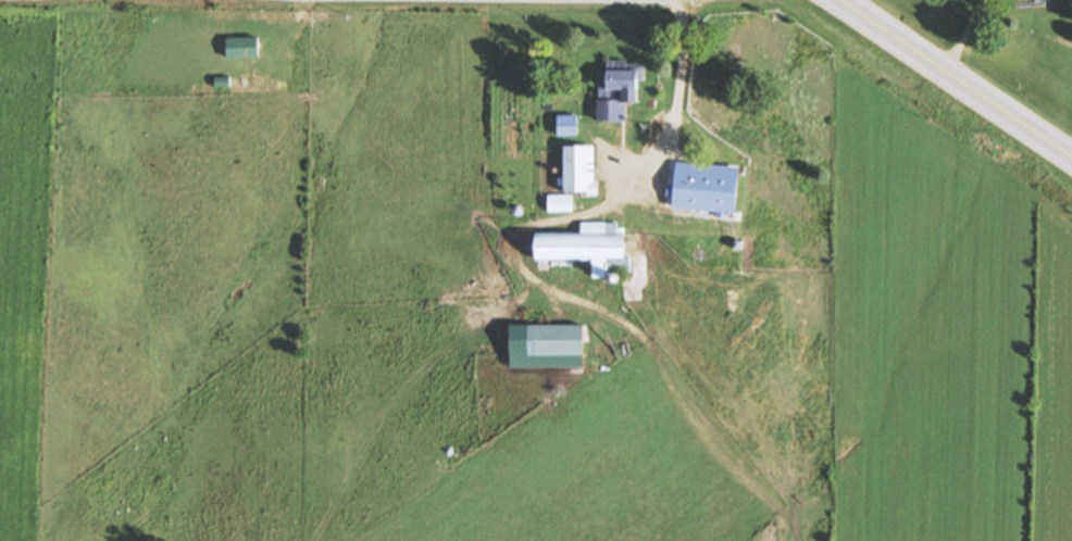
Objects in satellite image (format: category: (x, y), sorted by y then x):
building: (1039, 0)
building: (244, 48)
building: (715, 65)
road: (955, 77)
building: (620, 91)
building: (569, 125)
building: (577, 177)
building: (671, 191)
building: (589, 248)
building: (558, 341)

